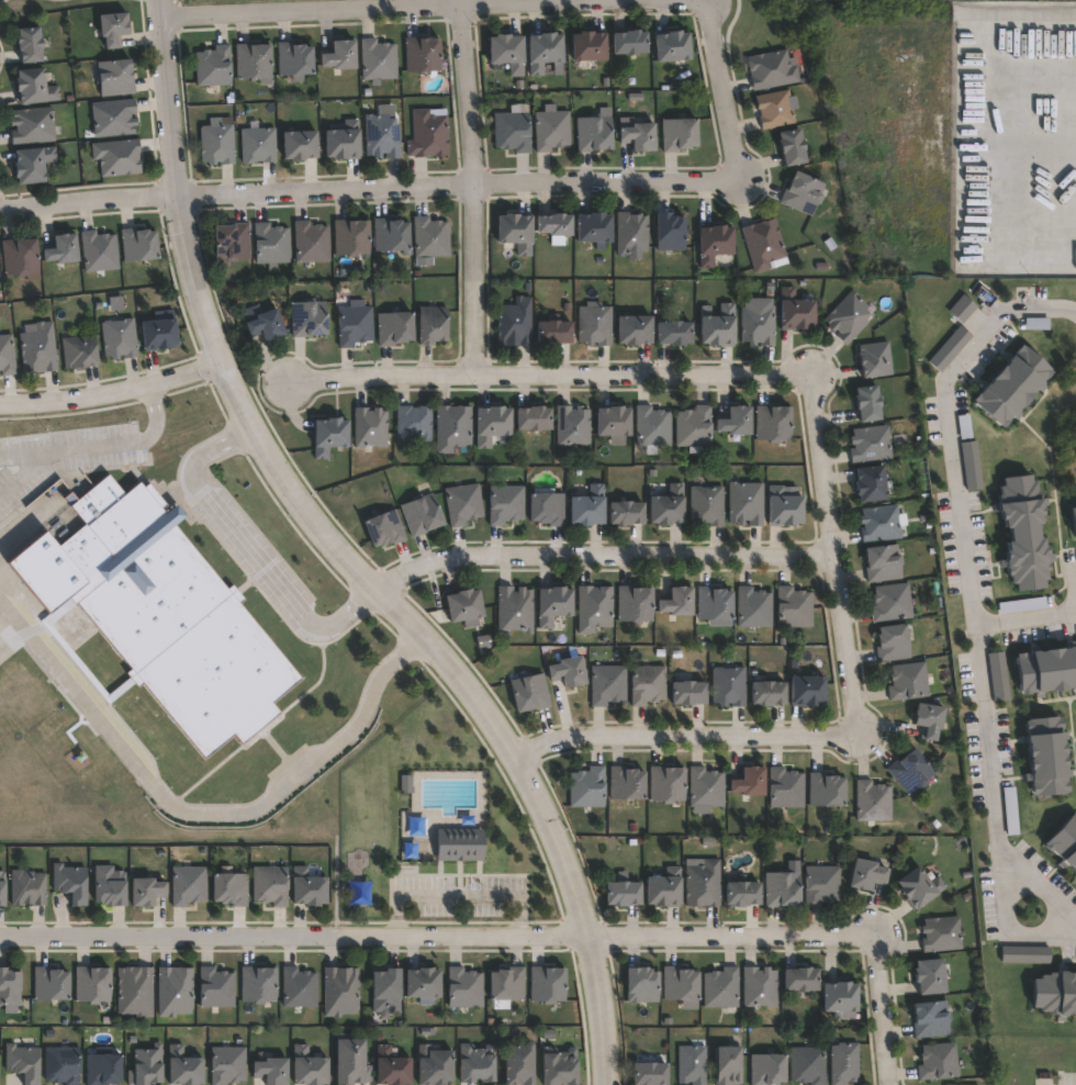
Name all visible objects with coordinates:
road: (0, 0)
road: (166, 0)
park: (865, 0)
park: (78, 4)
road: (402, 11)
park: (762, 24)
road: (727, 26)
building: (112, 27)
building: (629, 41)
building: (29, 44)
building: (673, 45)
building: (589, 48)
building: (507, 51)
building: (546, 52)
building: (422, 54)
building: (339, 55)
building: (294, 58)
building: (378, 59)
building: (254, 61)
building: (213, 66)
building: (772, 69)
building: (114, 77)
building: (33, 86)
road: (721, 90)
building: (776, 110)
building: (113, 116)
building: (32, 124)
building: (551, 130)
building: (513, 131)
building: (596, 131)
building: (427, 133)
building: (680, 133)
building: (381, 135)
building: (640, 136)
road: (1009, 137)
building: (343, 141)
building: (217, 144)
building: (258, 144)
building: (300, 144)
building: (793, 146)
building: (117, 157)
building: (32, 164)
road: (458, 184)
road: (472, 187)
building: (803, 193)
road: (89, 202)
building: (556, 226)
building: (594, 228)
building: (516, 231)
building: (631, 232)
building: (670, 232)
building: (391, 234)
building: (350, 236)
building: (430, 236)
building: (231, 242)
building: (311, 243)
building: (715, 243)
building: (271, 244)
building: (137, 245)
building: (764, 245)
building: (60, 248)
building: (99, 251)
building: (20, 256)
building: (797, 310)
building: (849, 316)
building: (309, 318)
road: (994, 321)
building: (515, 323)
building: (758, 323)
building: (595, 324)
building: (266, 325)
building: (355, 325)
building: (433, 325)
building: (719, 326)
building: (394, 327)
building: (635, 329)
building: (554, 332)
building: (675, 333)
building: (158, 334)
building: (119, 337)
building: (37, 348)
building: (79, 351)
building: (7, 355)
building: (876, 359)
road: (378, 377)
road: (641, 377)
building: (1009, 384)
road: (111, 391)
building: (870, 403)
building: (533, 418)
building: (414, 422)
building: (736, 422)
building: (773, 423)
building: (492, 424)
building: (614, 424)
building: (572, 426)
building: (370, 427)
building: (694, 427)
building: (453, 428)
building: (652, 428)
building: (329, 436)
road: (100, 445)
building: (871, 445)
building: (872, 484)
building: (747, 503)
building: (463, 504)
building: (505, 505)
building: (706, 506)
building: (785, 506)
building: (587, 507)
building: (668, 507)
road: (956, 507)
building: (547, 508)
building: (626, 514)
building: (423, 515)
building: (1073, 516)
building: (883, 524)
building: (1018, 526)
building: (384, 529)
road: (248, 547)
road: (598, 555)
road: (830, 556)
road: (346, 558)
building: (884, 563)
building: (677, 603)
building: (714, 603)
building: (893, 603)
building: (635, 605)
building: (553, 606)
building: (466, 607)
building: (754, 607)
building: (794, 607)
building: (594, 608)
building: (515, 609)
building: (159, 613)
road: (1023, 617)
building: (894, 644)
building: (1045, 665)
building: (569, 673)
building: (909, 682)
building: (608, 685)
building: (649, 685)
building: (729, 686)
building: (808, 692)
building: (529, 694)
building: (688, 694)
building: (769, 694)
building: (931, 722)
road: (685, 736)
building: (1042, 752)
road: (986, 767)
building: (911, 773)
building: (751, 780)
building: (626, 784)
building: (666, 785)
building: (706, 786)
building: (786, 786)
building: (828, 787)
building: (587, 788)
building: (874, 801)
road: (201, 813)
building: (1064, 840)
building: (461, 843)
building: (867, 873)
road: (1035, 879)
building: (70, 882)
building: (704, 883)
building: (109, 884)
building: (189, 884)
building: (270, 884)
building: (822, 884)
building: (920, 885)
building: (1, 886)
building: (307, 886)
building: (27, 887)
building: (229, 887)
building: (664, 887)
building: (783, 888)
building: (146, 890)
building: (623, 892)
building: (743, 892)
road: (459, 897)
building: (942, 933)
road: (1032, 935)
road: (292, 936)
road: (730, 939)
building: (1027, 953)
building: (931, 974)
building: (802, 978)
building: (49, 983)
building: (91, 983)
building: (258, 983)
building: (423, 983)
building: (507, 983)
building: (547, 983)
building: (680, 983)
building: (642, 984)
building: (760, 986)
building: (215, 987)
building: (299, 987)
building: (464, 987)
building: (721, 987)
building: (9, 989)
building: (135, 991)
building: (173, 991)
building: (340, 991)
building: (385, 991)
building: (1054, 992)
building: (842, 998)
road: (882, 1010)
building: (932, 1018)
building: (940, 1061)
building: (22, 1062)
building: (354, 1062)
building: (479, 1063)
building: (519, 1063)
building: (844, 1063)
building: (61, 1064)
building: (227, 1064)
building: (693, 1064)
building: (808, 1064)
building: (145, 1065)
building: (730, 1065)
building: (182, 1066)
building: (309, 1066)
building: (435, 1066)
building: (562, 1066)
building: (394, 1067)
building: (767, 1067)
building: (102, 1069)
building: (271, 1071)
building: (650, 1073)
building: (957, 1084)

